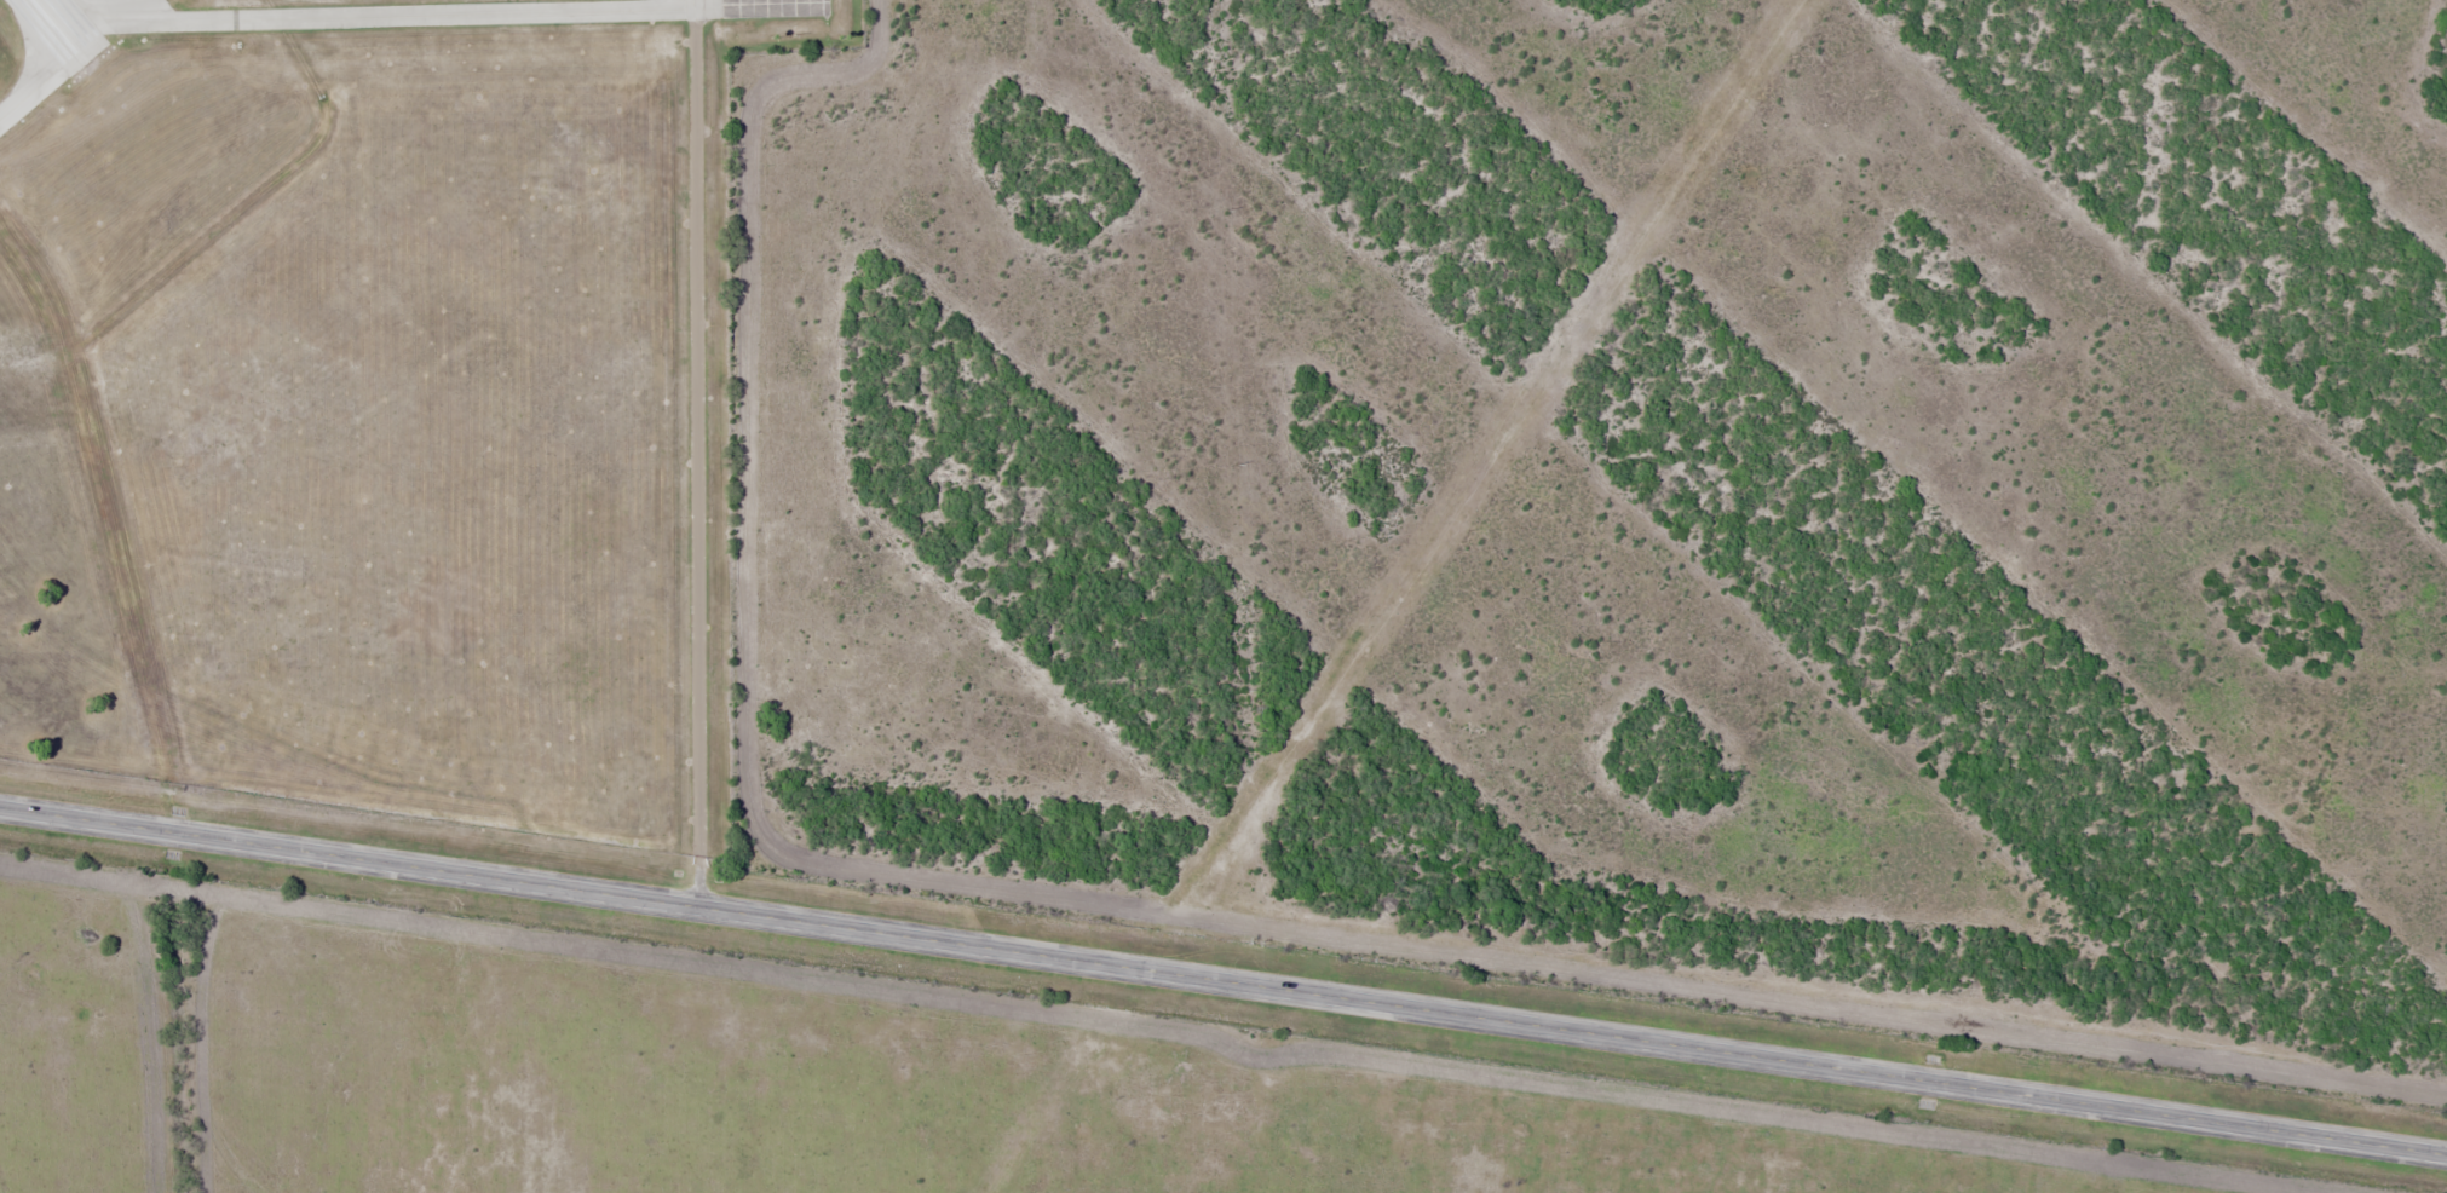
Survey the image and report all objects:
airport runway: (50, 16)
airport runway: (70, 23)
airport taxiway: (34, 53)
road: (661, 269)
road: (1223, 982)

